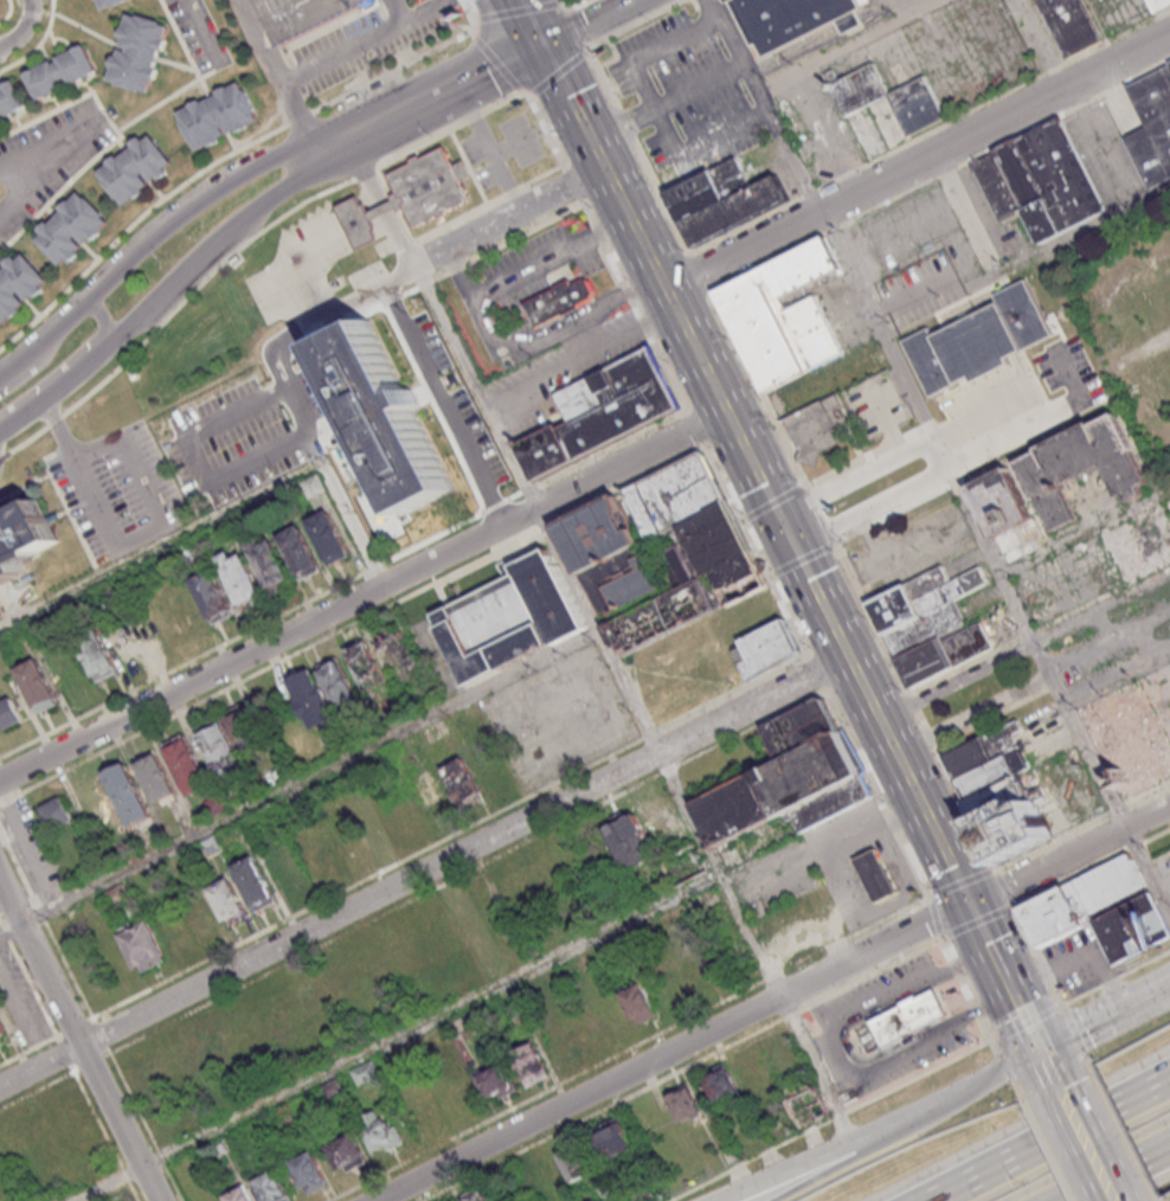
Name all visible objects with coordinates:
building: (108, 4)
road: (564, 4)
building: (1158, 4)
road: (570, 7)
road: (396, 11)
road: (520, 12)
building: (303, 14)
road: (470, 15)
building: (792, 19)
road: (534, 20)
road: (586, 20)
road: (477, 23)
building: (1071, 24)
road: (21, 30)
road: (580, 30)
road: (199, 32)
road: (372, 34)
road: (475, 36)
parking lot: (373, 40)
road: (264, 41)
traffic signals: (545, 41)
road: (849, 46)
building: (141, 47)
road: (500, 64)
building: (60, 72)
road: (604, 77)
road: (465, 81)
chimney: (831, 85)
building: (856, 86)
parking lot: (683, 94)
building: (11, 101)
road: (669, 101)
road: (576, 104)
building: (915, 104)
road: (655, 107)
road: (766, 107)
road: (296, 109)
building: (219, 111)
road: (622, 116)
road: (545, 124)
building: (1151, 124)
road: (628, 127)
road: (352, 135)
road: (632, 137)
road: (18, 156)
road: (919, 165)
building: (136, 166)
road: (218, 166)
road: (27, 180)
road: (572, 180)
building: (1039, 181)
building: (429, 185)
road: (269, 199)
building: (724, 200)
road: (590, 211)
road: (964, 211)
road: (509, 217)
building: (360, 219)
parking lot: (998, 220)
building: (75, 225)
parking lot: (917, 233)
road: (602, 236)
road: (1073, 236)
road: (146, 244)
building: (19, 284)
parking lot: (920, 290)
road: (668, 291)
road: (911, 294)
building: (560, 298)
building: (782, 314)
road: (301, 316)
road: (103, 319)
road: (650, 332)
building: (978, 339)
road: (115, 345)
road: (1121, 359)
parking lot: (1068, 372)
road: (1071, 379)
road: (433, 381)
parking lot: (875, 404)
road: (1062, 405)
building: (604, 411)
building: (386, 416)
building: (818, 425)
road: (205, 429)
road: (699, 431)
road: (893, 441)
road: (866, 454)
building: (1080, 464)
road: (856, 475)
road: (761, 480)
chimney: (1061, 486)
parking lot: (118, 490)
building: (675, 494)
building: (999, 501)
road: (870, 505)
road: (817, 509)
road: (221, 512)
road: (894, 512)
road: (1078, 533)
building: (597, 534)
building: (22, 537)
building: (329, 537)
road: (869, 537)
road: (136, 538)
traffic signals: (795, 544)
parking lot: (914, 547)
building: (1124, 550)
building: (300, 551)
road: (760, 554)
building: (270, 563)
road: (998, 566)
building: (683, 574)
building: (242, 578)
building: (621, 579)
building: (733, 579)
building: (212, 596)
road: (364, 596)
building: (922, 596)
road: (1102, 608)
building: (514, 619)
road: (353, 622)
road: (1039, 627)
building: (925, 628)
road: (602, 640)
road: (1110, 643)
building: (765, 647)
building: (397, 650)
building: (940, 655)
building: (97, 656)
road: (1163, 674)
building: (353, 675)
road: (821, 677)
road: (958, 679)
road: (1117, 679)
building: (38, 685)
parking lot: (1158, 695)
building: (311, 699)
road: (973, 711)
building: (9, 712)
road: (995, 712)
parking lot: (558, 718)
road: (883, 722)
building: (233, 740)
building: (1124, 741)
building: (984, 749)
road: (857, 750)
building: (487, 759)
building: (187, 764)
building: (994, 773)
building: (156, 776)
building: (791, 777)
building: (461, 778)
road: (297, 782)
building: (430, 786)
building: (128, 792)
building: (997, 796)
building: (57, 813)
building: (1017, 821)
road: (894, 824)
road: (1080, 826)
road: (442, 839)
building: (630, 840)
road: (1071, 855)
parking lot: (1164, 865)
road: (1089, 867)
road: (917, 871)
road: (426, 873)
building: (875, 874)
road: (960, 881)
building: (253, 882)
road: (1004, 887)
building: (227, 898)
traffic signals: (971, 904)
building: (1102, 914)
road: (936, 916)
road: (977, 920)
road: (988, 940)
road: (947, 944)
building: (143, 945)
road: (958, 965)
road: (1116, 976)
road: (1050, 982)
road: (967, 987)
road: (1011, 987)
building: (639, 1003)
road: (978, 1008)
building: (908, 1015)
road: (1106, 1017)
road: (1029, 1023)
building: (2, 1032)
road: (81, 1036)
road: (399, 1038)
road: (629, 1047)
road: (671, 1051)
traffic signals: (1043, 1051)
road: (999, 1054)
road: (843, 1055)
building: (531, 1064)
road: (682, 1066)
road: (1050, 1066)
building: (497, 1081)
building: (722, 1084)
road: (946, 1099)
building: (684, 1103)
building: (808, 1105)
road: (835, 1120)
building: (382, 1130)
road: (1123, 1130)
building: (615, 1137)
road: (1047, 1138)
road: (1087, 1142)
road: (1046, 1147)
building: (347, 1152)
building: (576, 1162)
building: (310, 1171)
road: (789, 1173)
road: (1114, 1173)
road: (812, 1176)
building: (272, 1187)
building: (238, 1194)
road: (1157, 1197)
building: (455, 1200)

